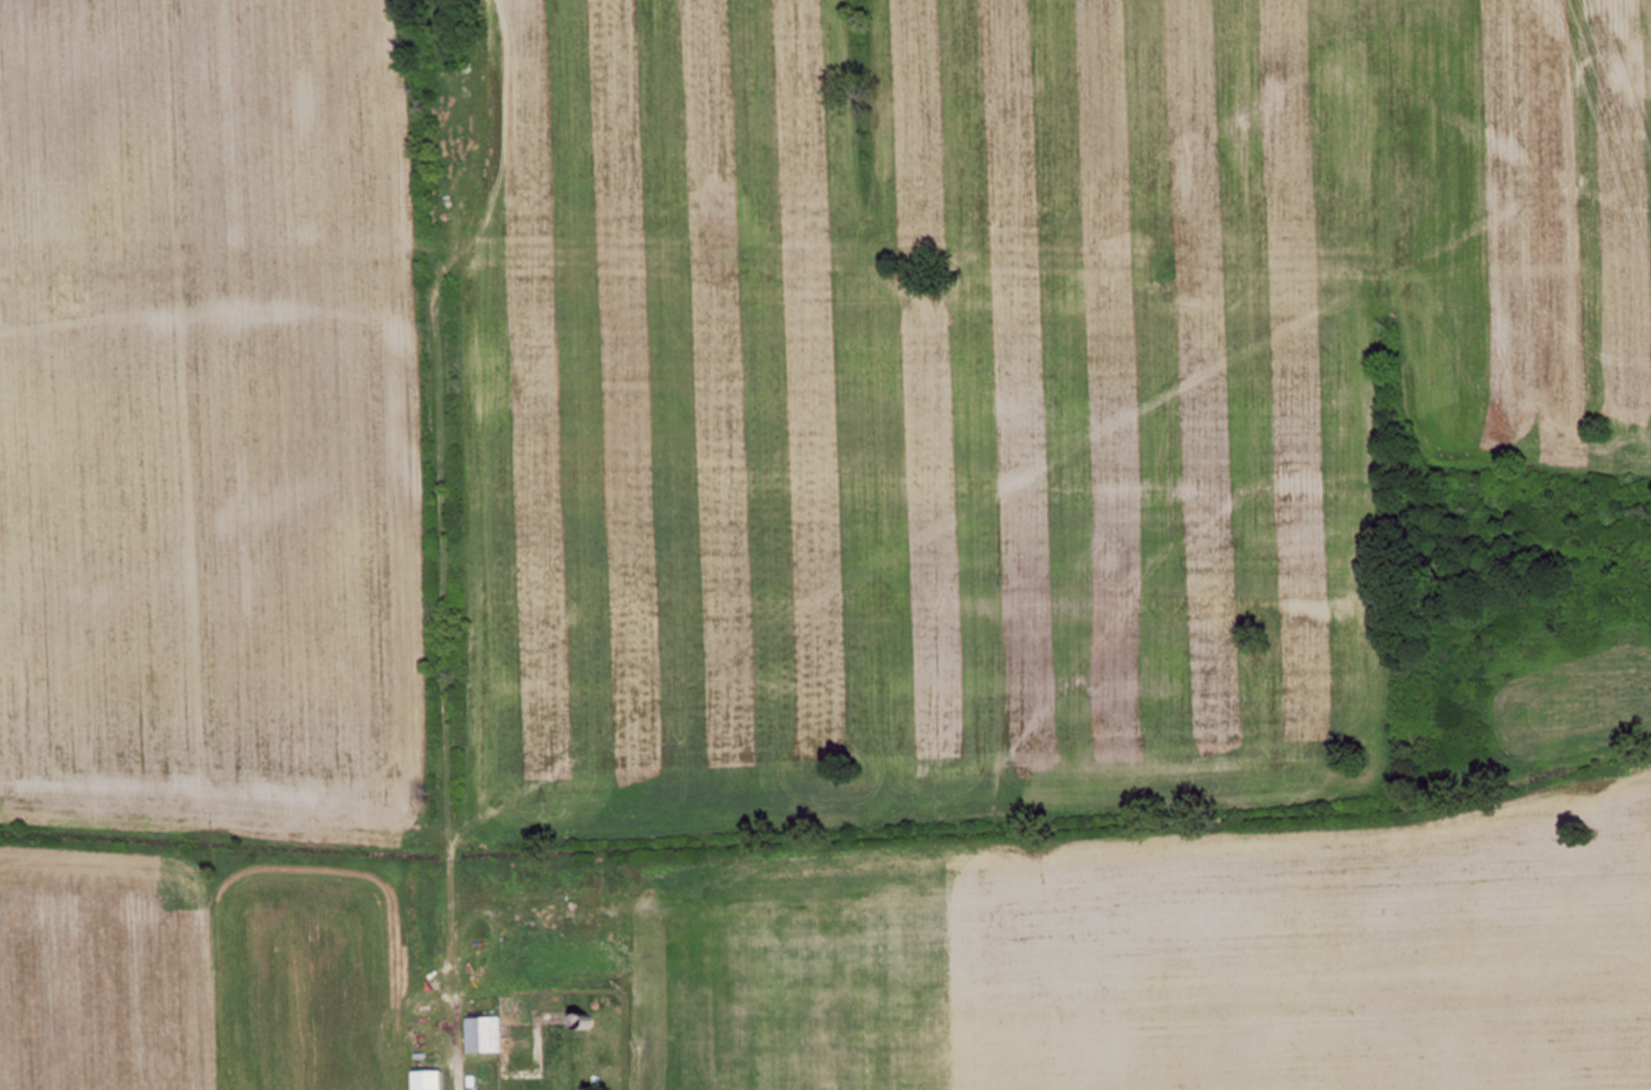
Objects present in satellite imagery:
building: (489, 1034)
building: (437, 1080)

